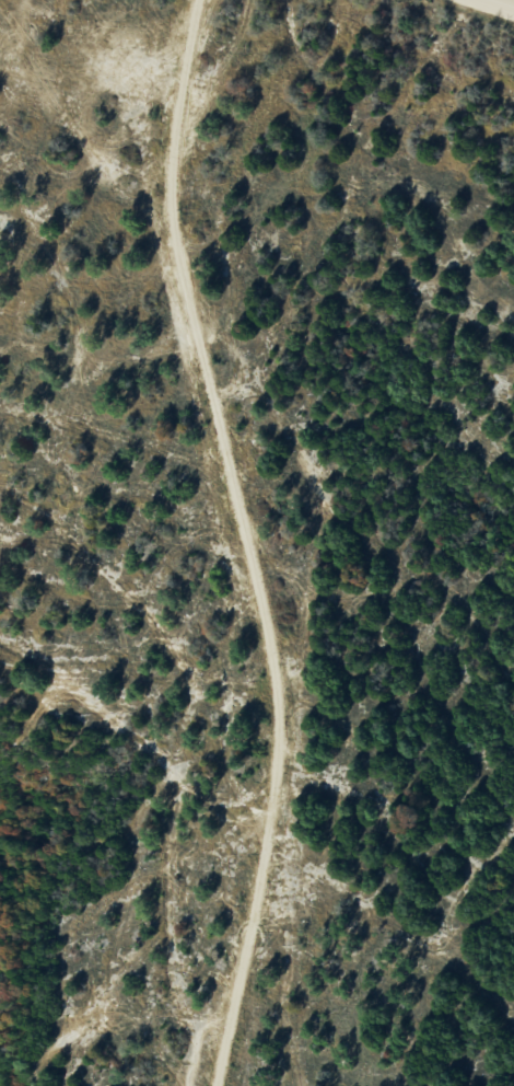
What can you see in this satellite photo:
road: (501, 3)

